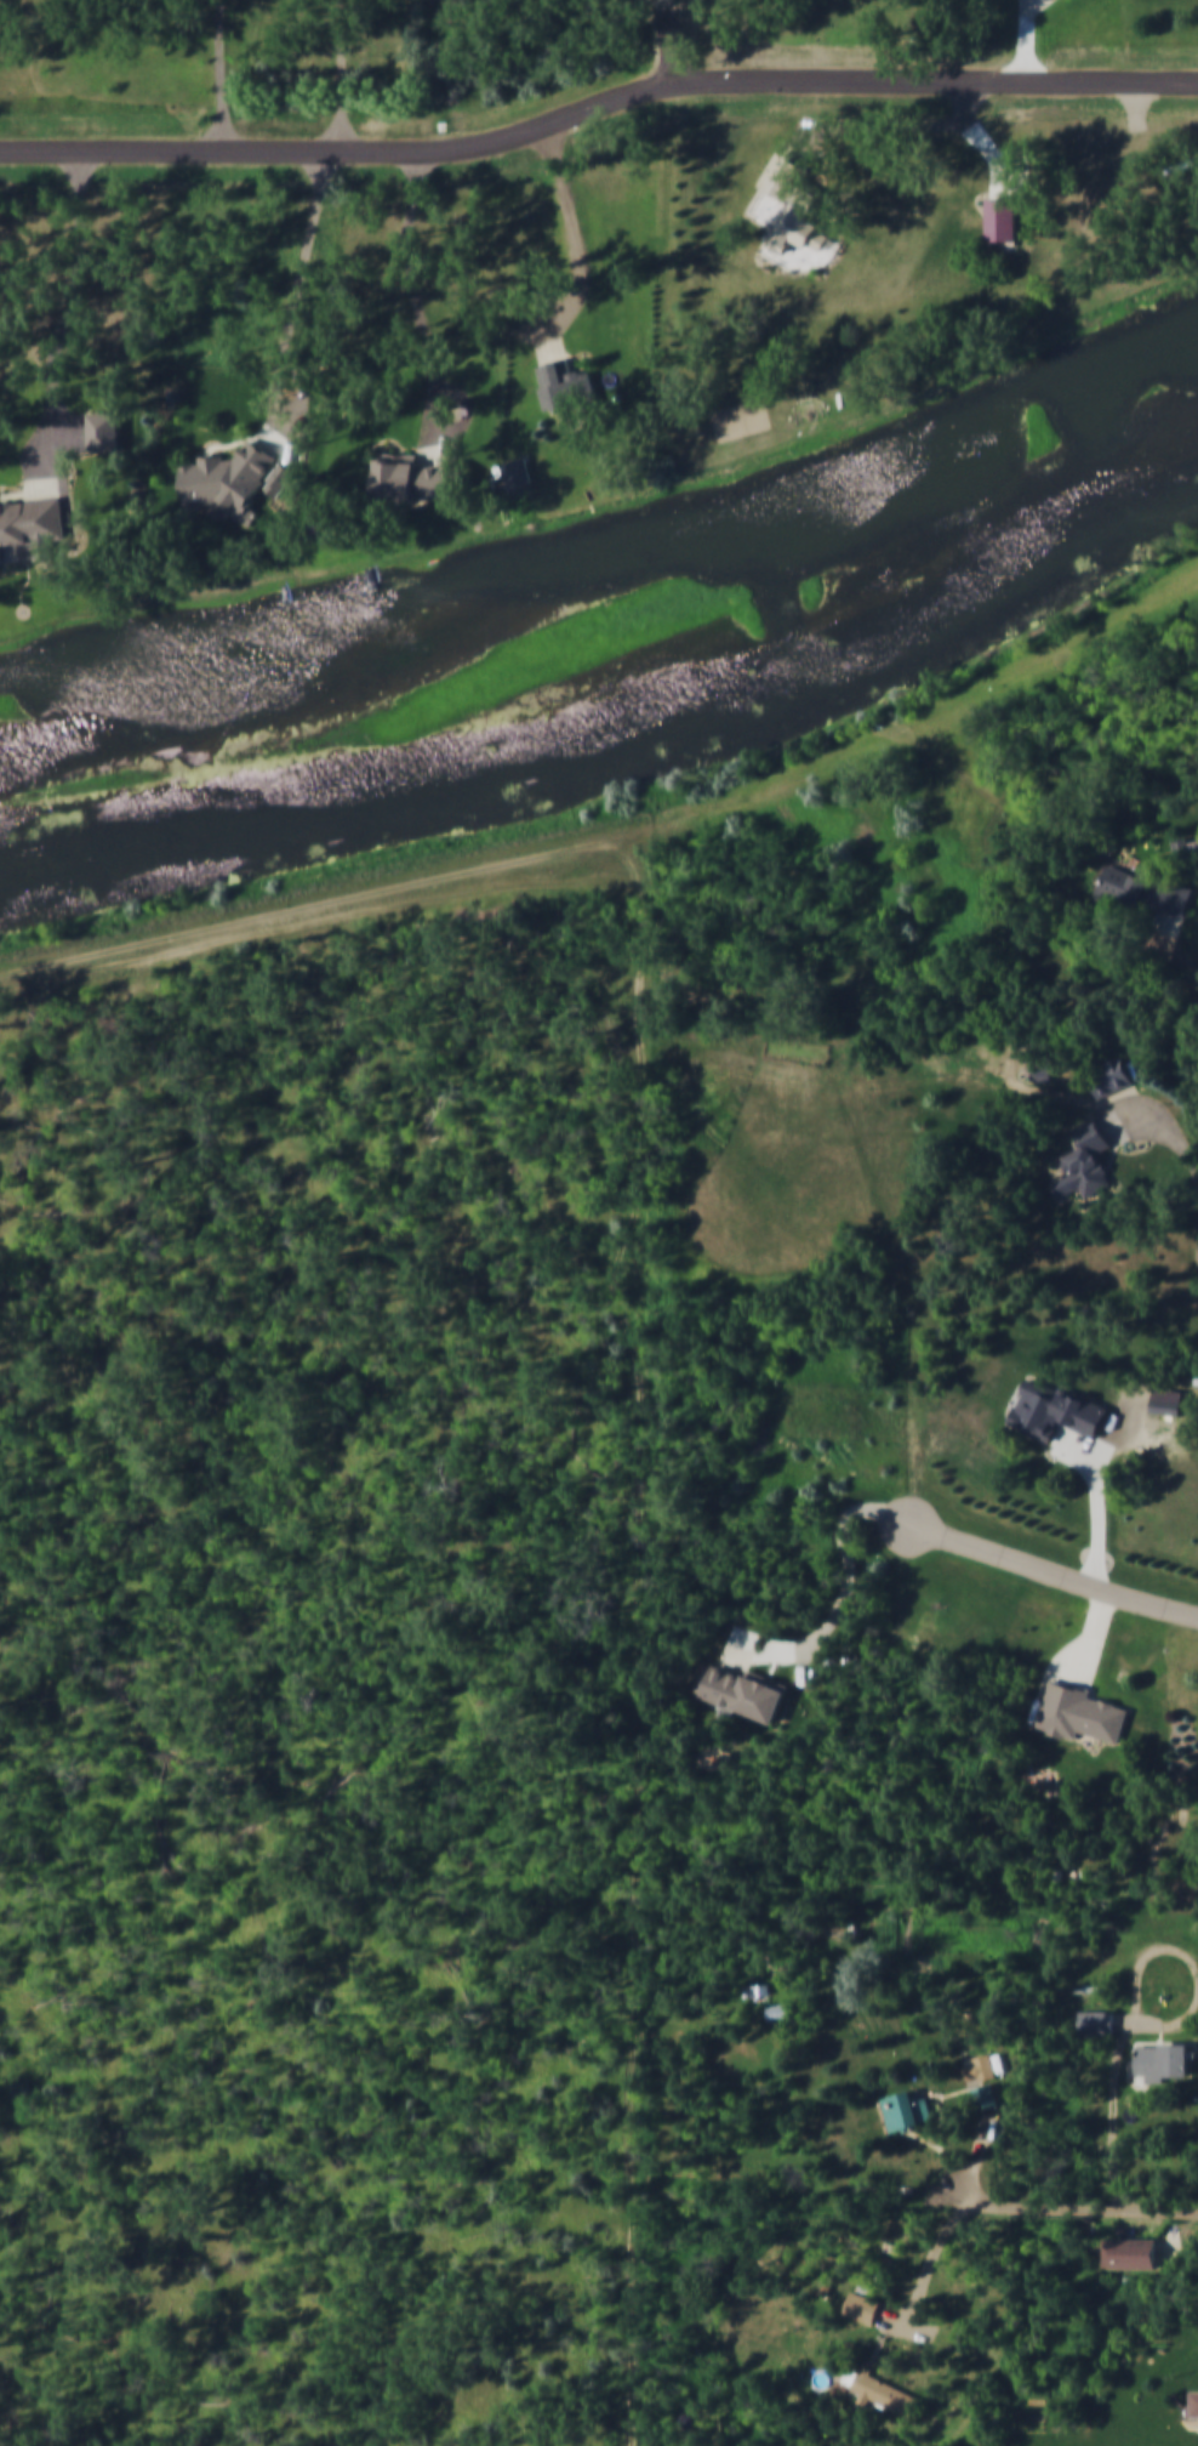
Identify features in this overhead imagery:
road: (1027, 40)
road: (674, 42)
road: (221, 76)
road: (340, 76)
road: (598, 109)
road: (892, 125)
road: (994, 153)
building: (795, 203)
building: (1005, 217)
road: (581, 249)
road: (296, 301)
road: (417, 306)
road: (70, 309)
building: (567, 385)
road: (302, 405)
road: (470, 405)
building: (103, 430)
road: (44, 463)
building: (519, 471)
building: (228, 477)
building: (421, 477)
building: (281, 478)
building: (30, 523)
river: (612, 550)
river: (783, 599)
river: (614, 740)
building: (1186, 847)
building: (1147, 889)
road: (1175, 944)
building: (1040, 1064)
building: (1113, 1077)
road: (1129, 1105)
road: (1165, 1130)
building: (1091, 1161)
road: (618, 1318)
building: (1171, 1397)
building: (1048, 1407)
road: (1094, 1506)
road: (1055, 1570)
road: (840, 1600)
road: (1094, 1638)
building: (745, 1697)
building: (1082, 1716)
building: (755, 1989)
road: (1130, 1990)
building: (776, 2010)
building: (1093, 2018)
building: (1159, 2063)
building: (983, 2071)
building: (985, 2100)
building: (909, 2114)
road: (1084, 2209)
road: (949, 2232)
building: (1140, 2257)
building: (867, 2311)
building: (888, 2396)
building: (1194, 2401)

